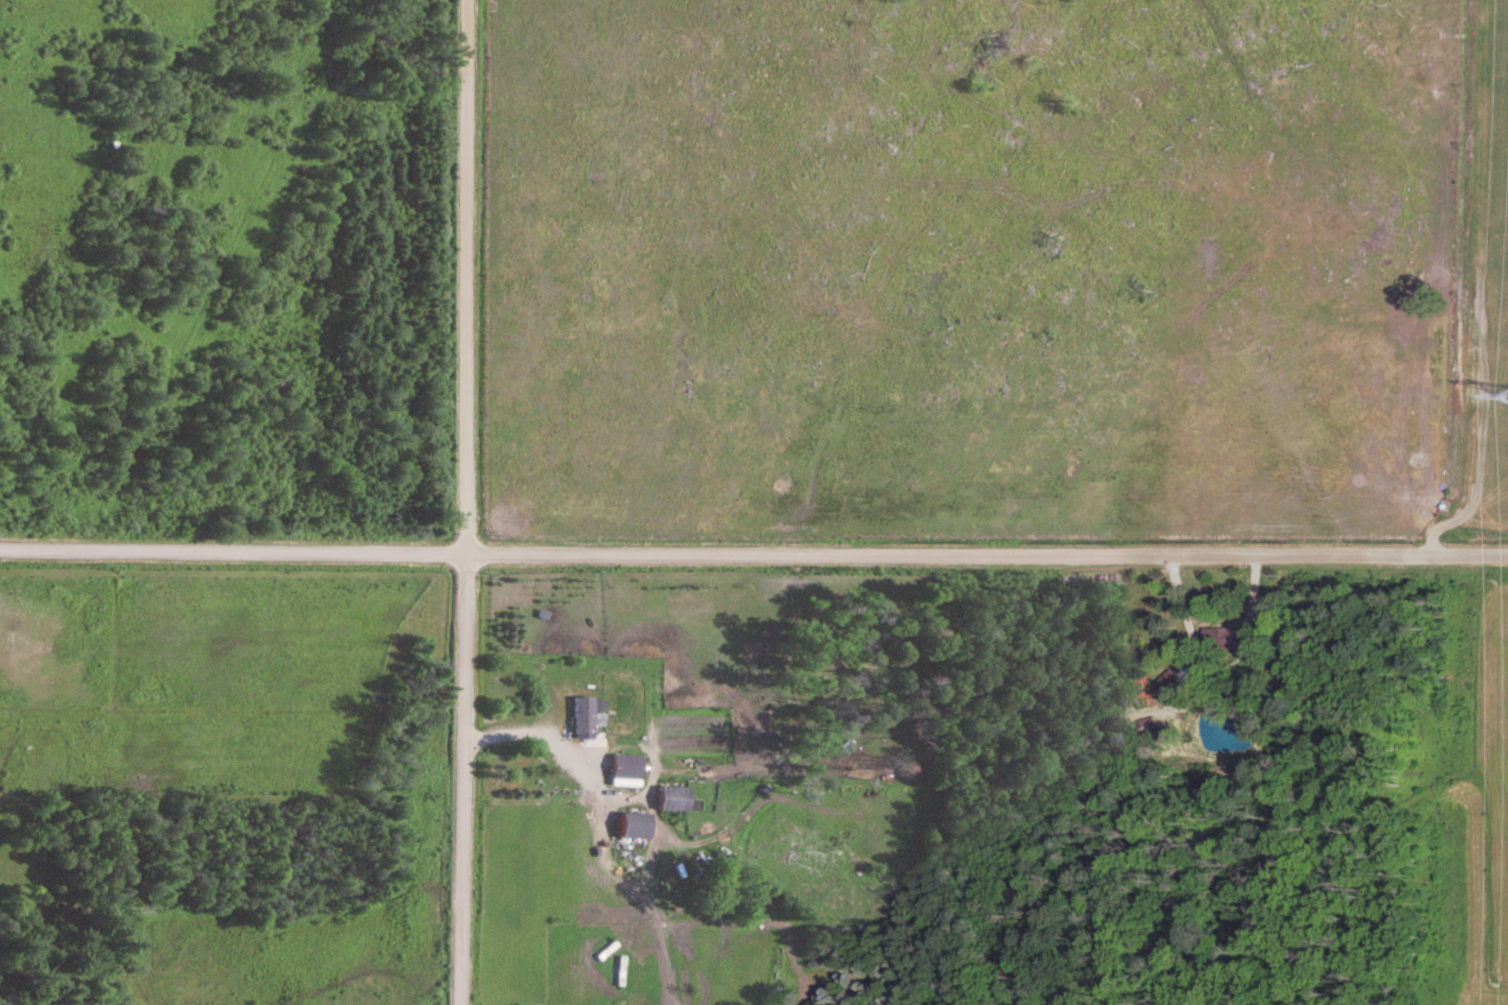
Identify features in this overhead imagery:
road: (465, 502)
road: (753, 556)
building: (1235, 638)
building: (588, 713)
road: (538, 732)
building: (628, 770)
building: (676, 798)
building: (637, 825)
building: (621, 971)

